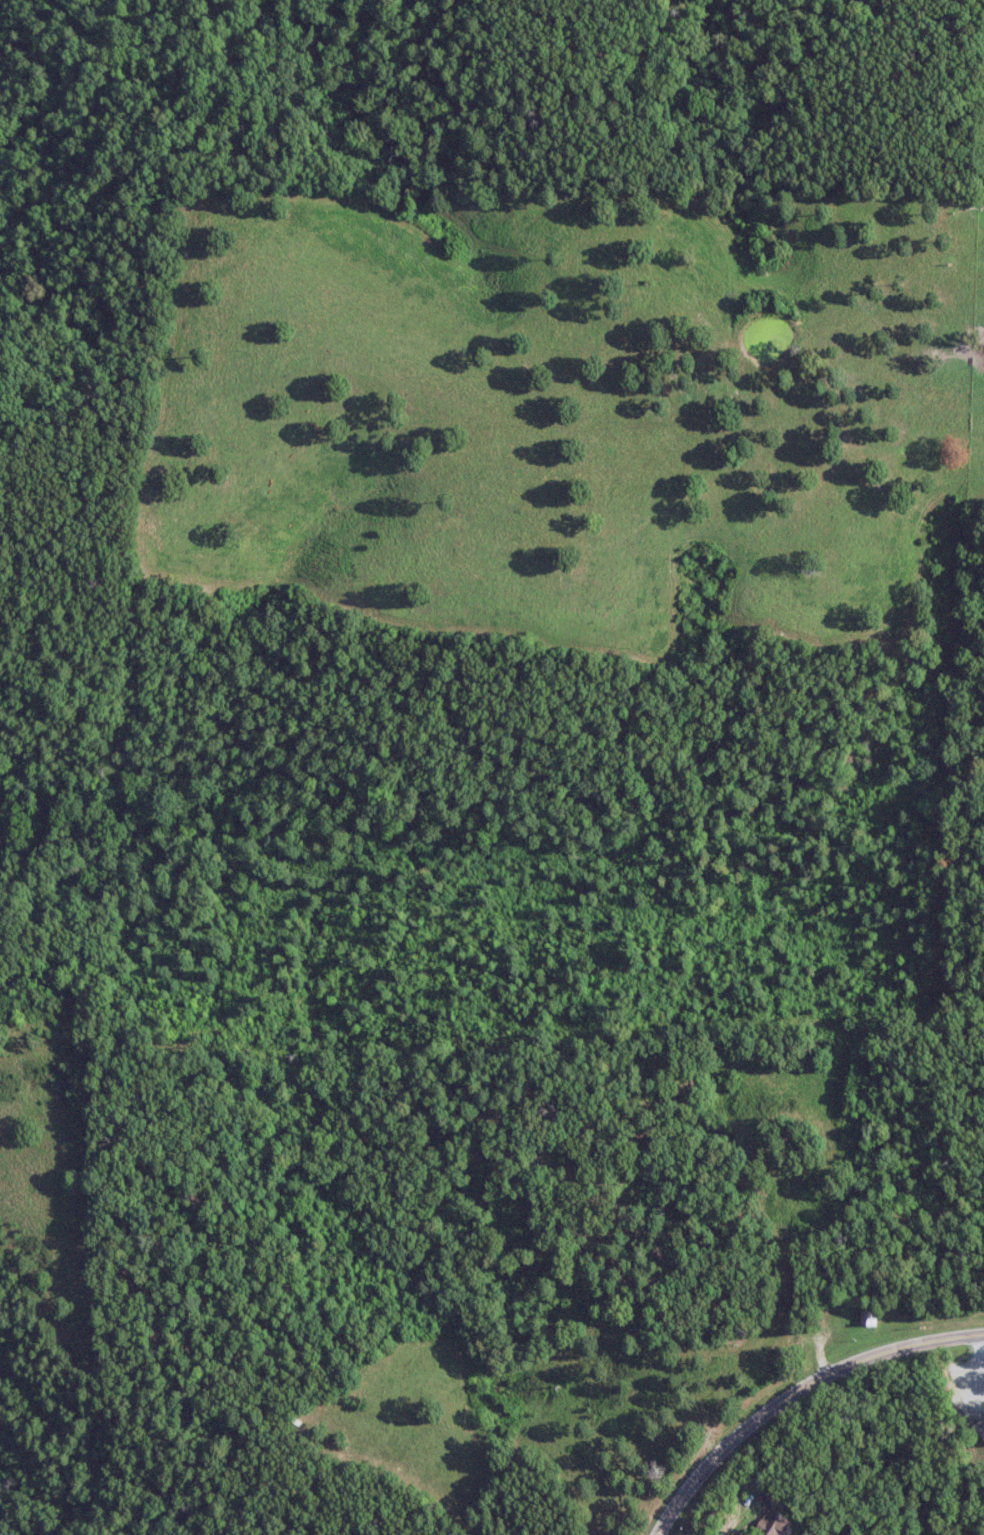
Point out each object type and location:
road: (796, 1394)
building: (980, 1426)
building: (770, 1523)

